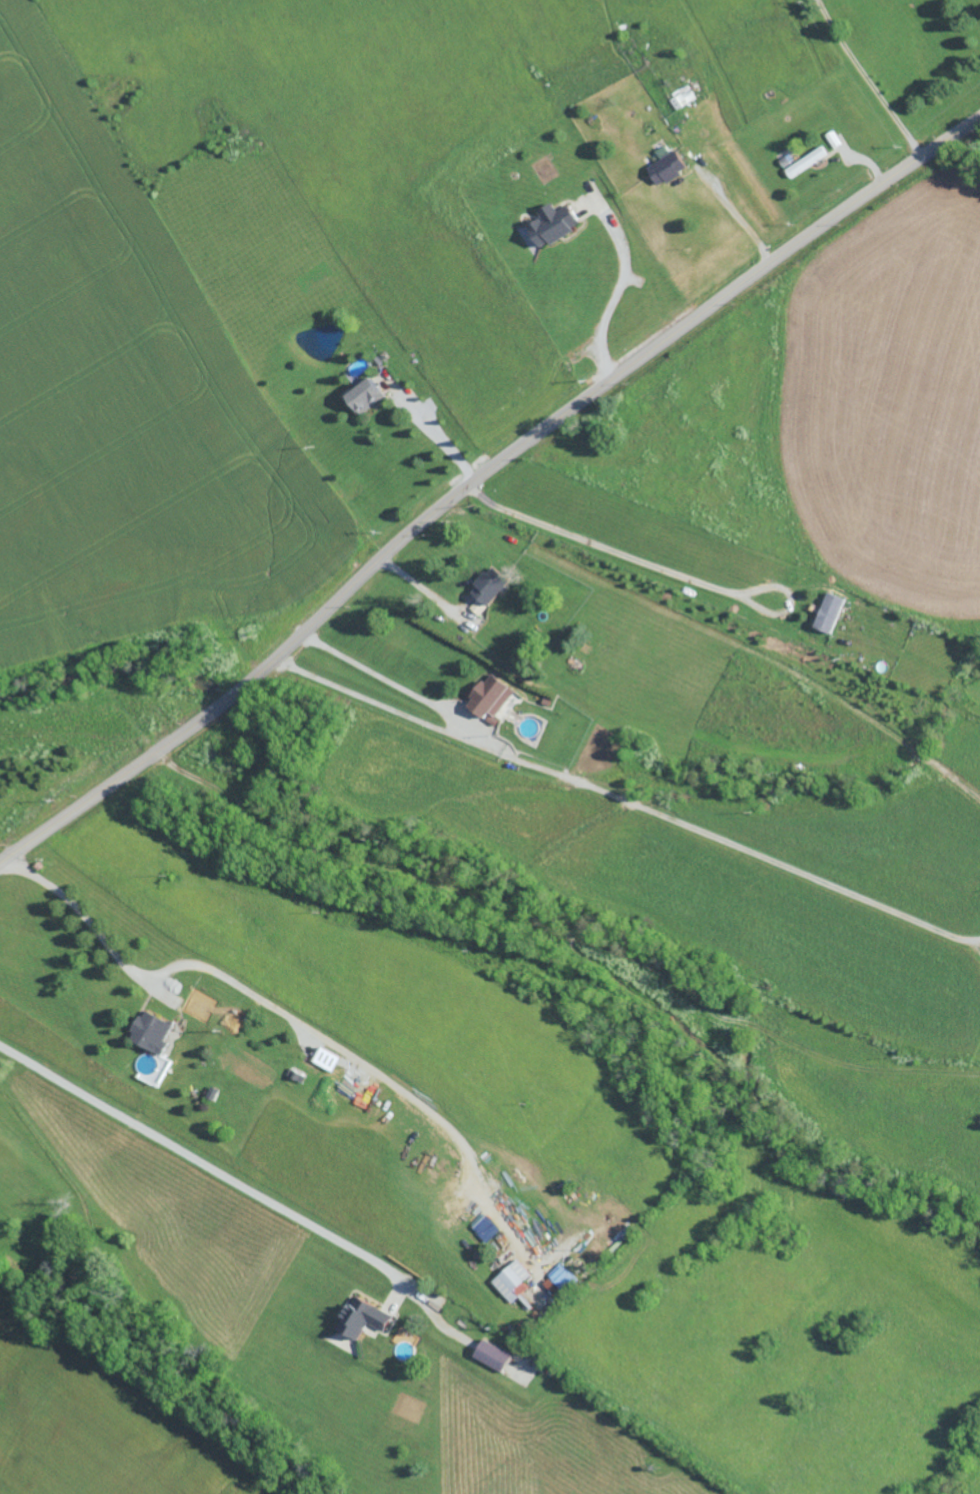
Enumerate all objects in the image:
road: (869, 80)
building: (806, 161)
building: (667, 165)
road: (742, 221)
building: (552, 223)
road: (622, 292)
building: (364, 396)
road: (441, 440)
road: (478, 480)
road: (658, 567)
building: (488, 585)
road: (424, 590)
building: (829, 612)
road: (388, 679)
building: (489, 696)
road: (628, 801)
road: (292, 1019)
building: (150, 1032)
road: (210, 1166)
building: (512, 1281)
building: (361, 1318)
building: (492, 1356)

